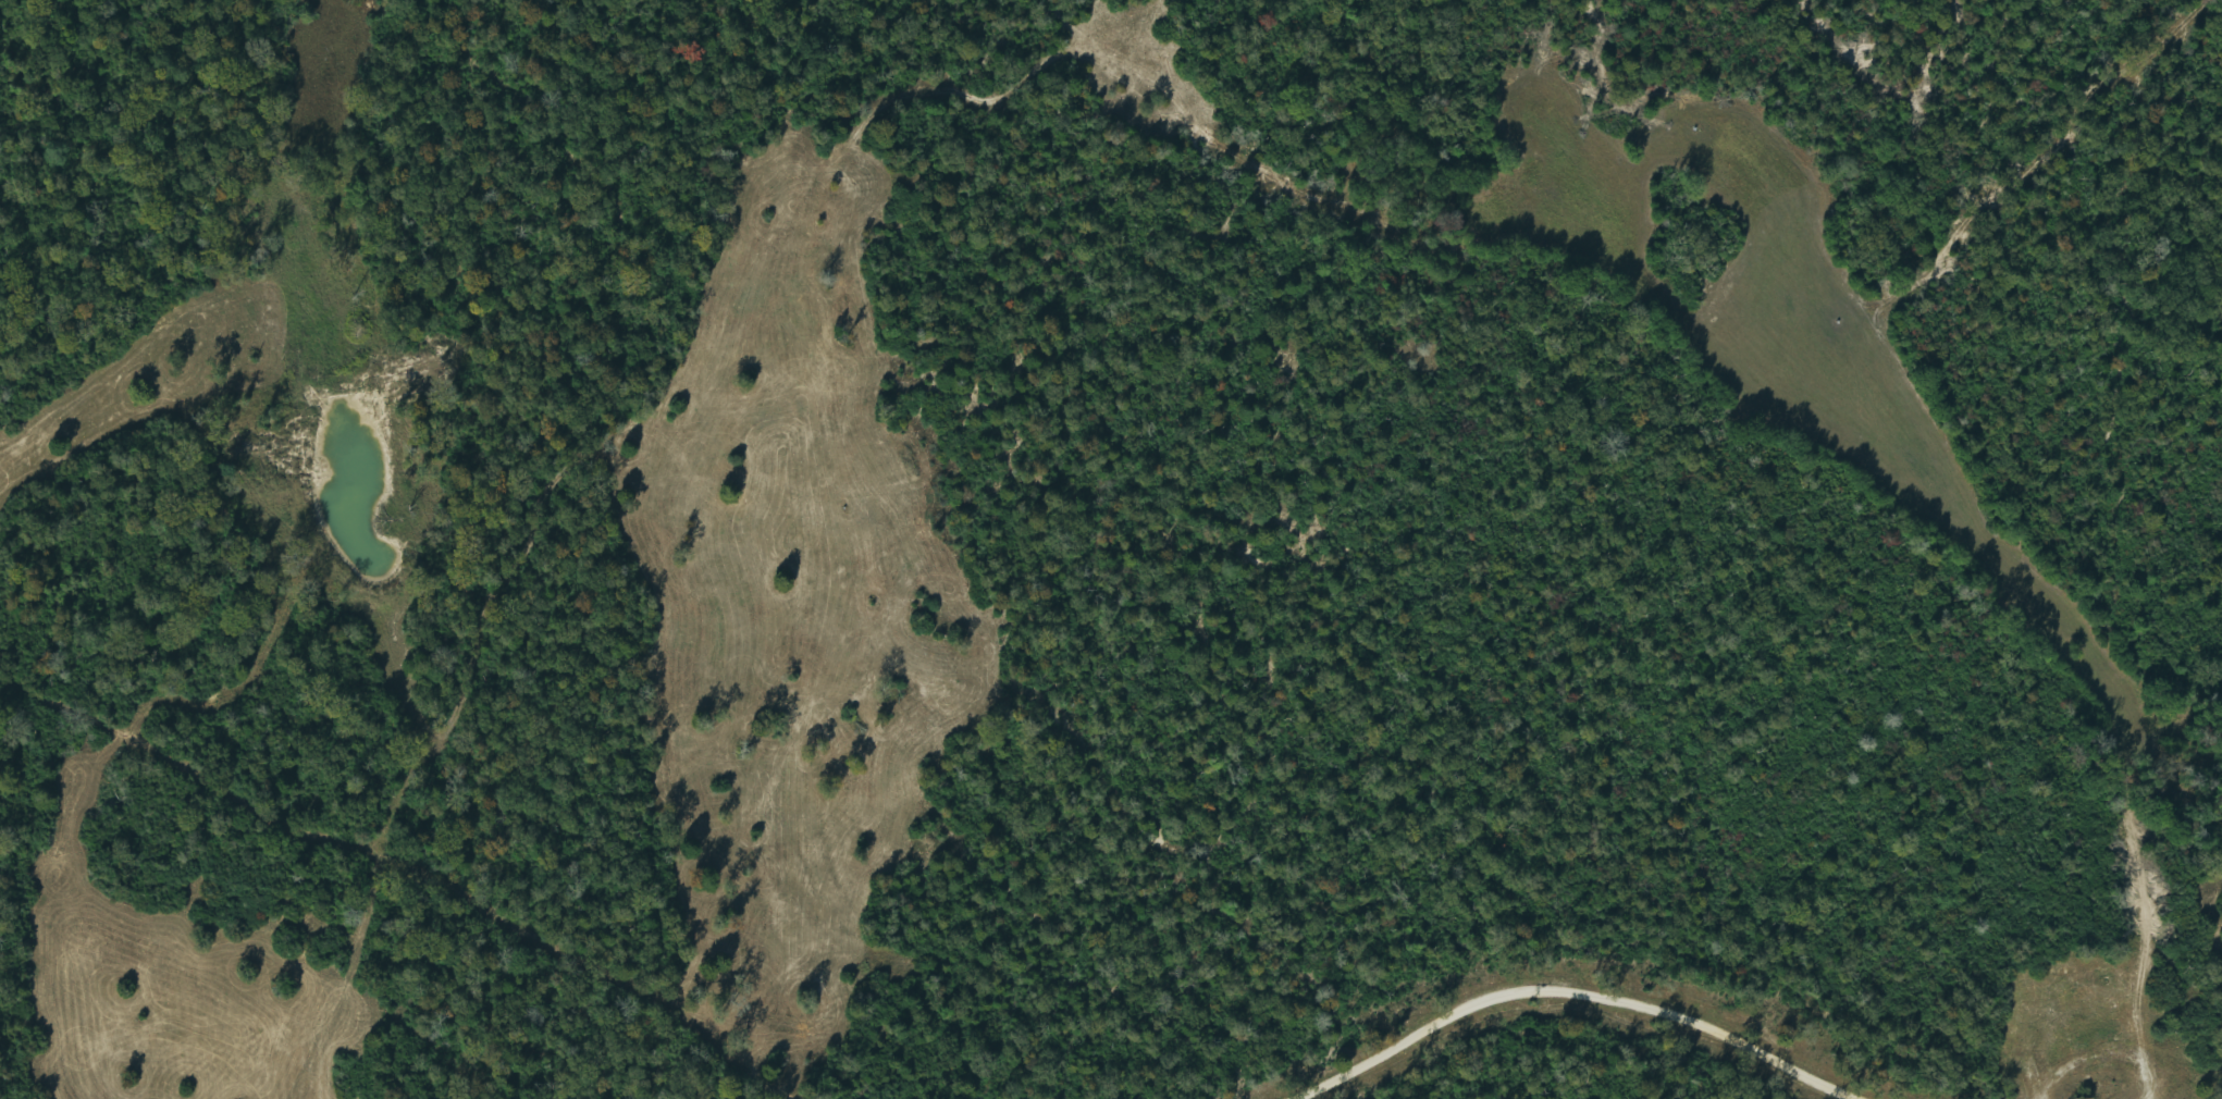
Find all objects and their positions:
road: (2144, 913)
road: (1560, 991)

